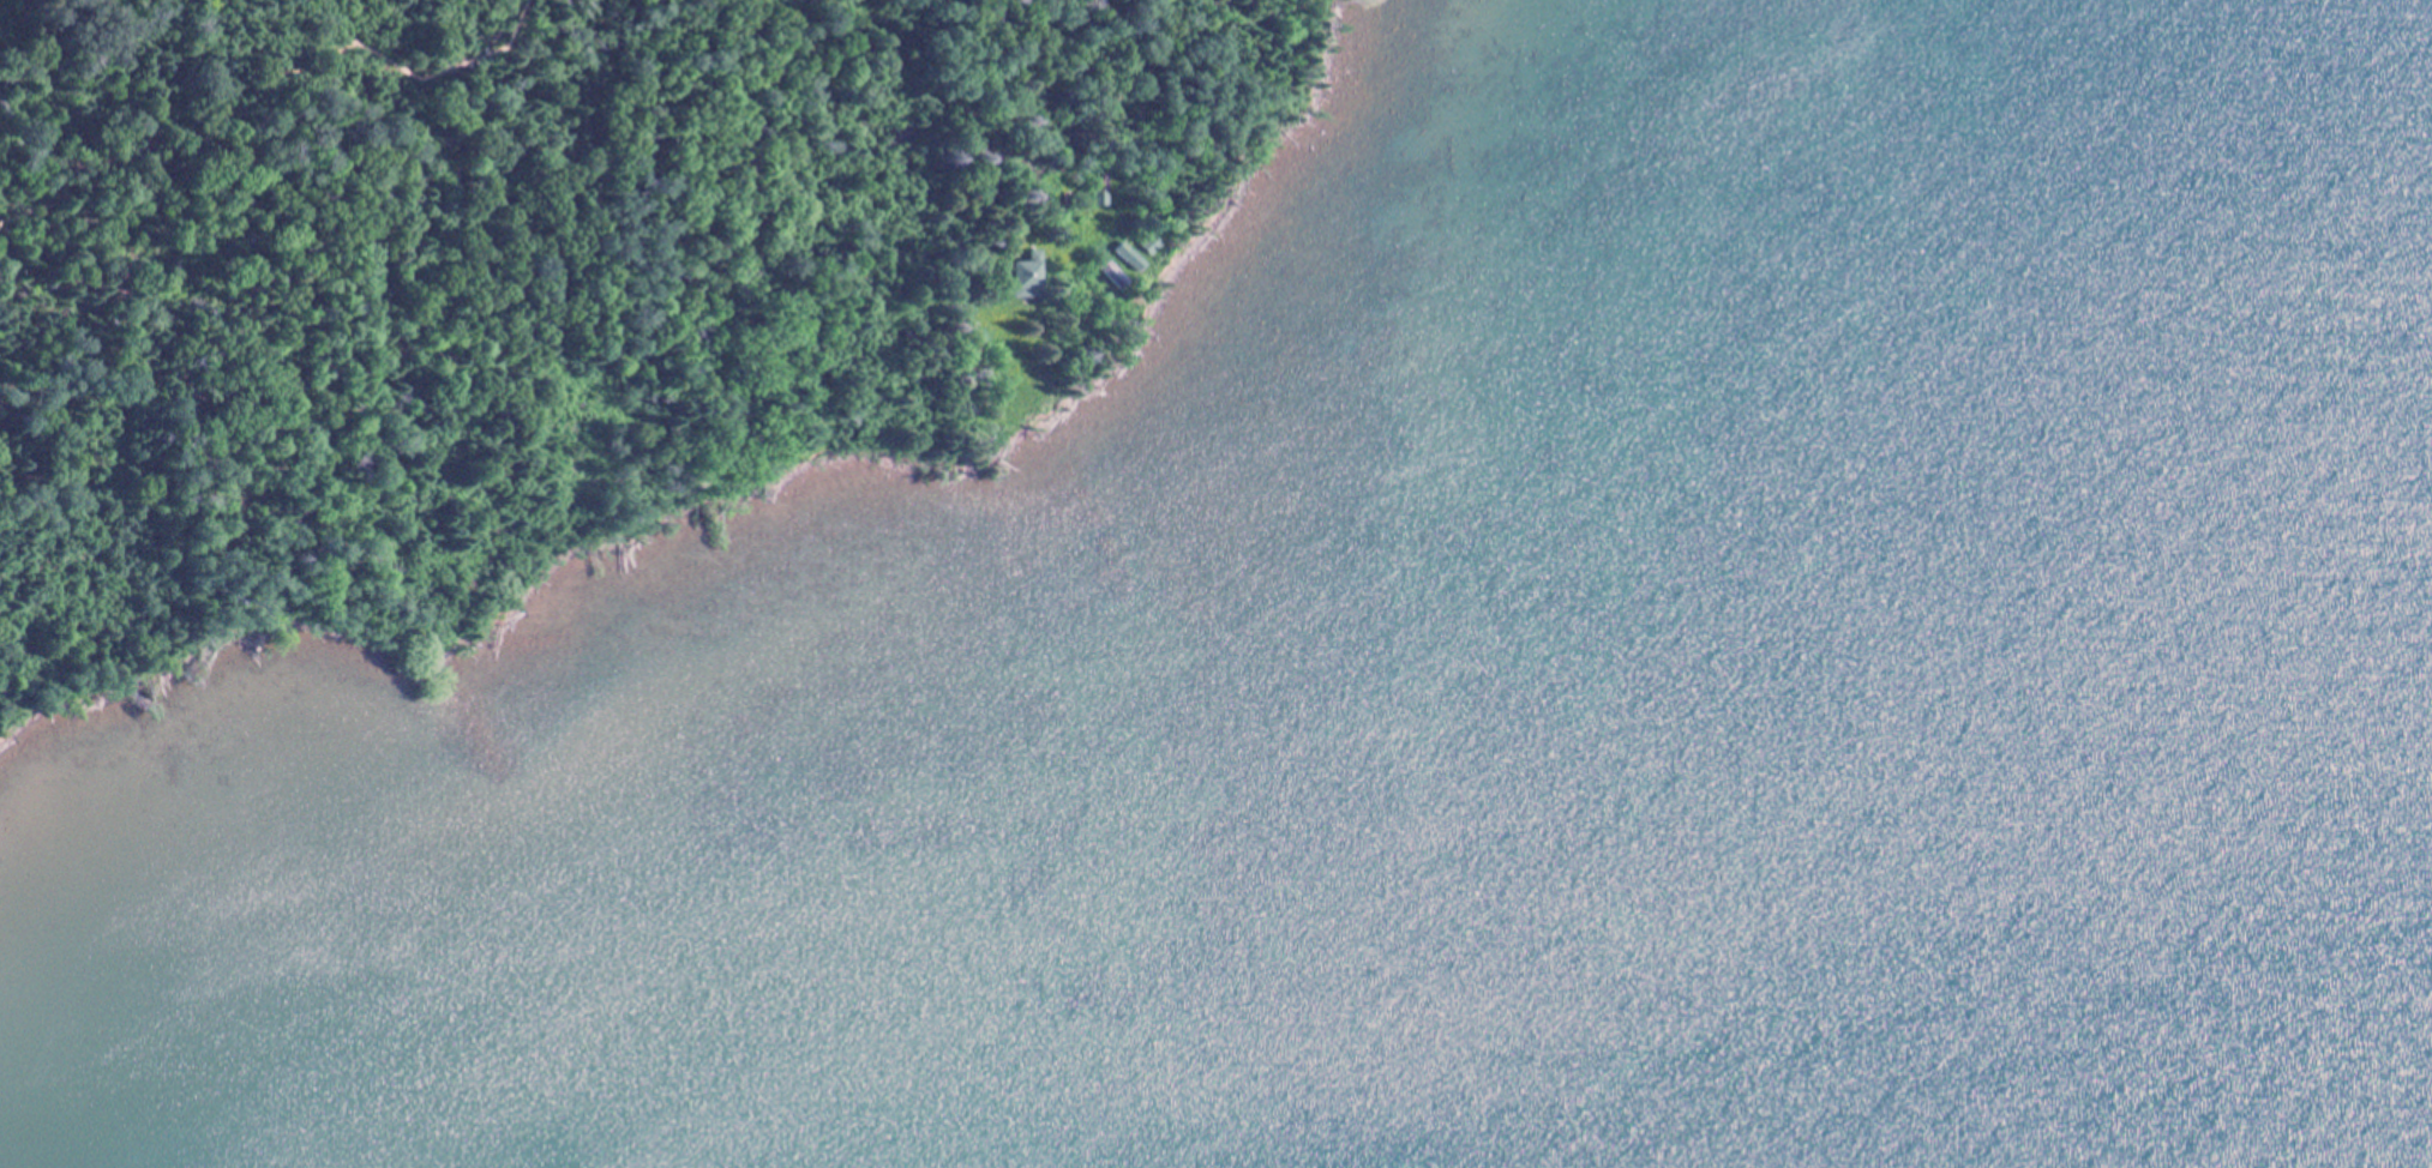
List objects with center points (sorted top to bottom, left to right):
building: (1098, 182)
building: (1098, 199)
building: (1146, 242)
building: (1127, 254)
building: (1111, 271)
building: (1025, 272)
building: (1153, 293)
building: (977, 482)
road: (643, 549)

